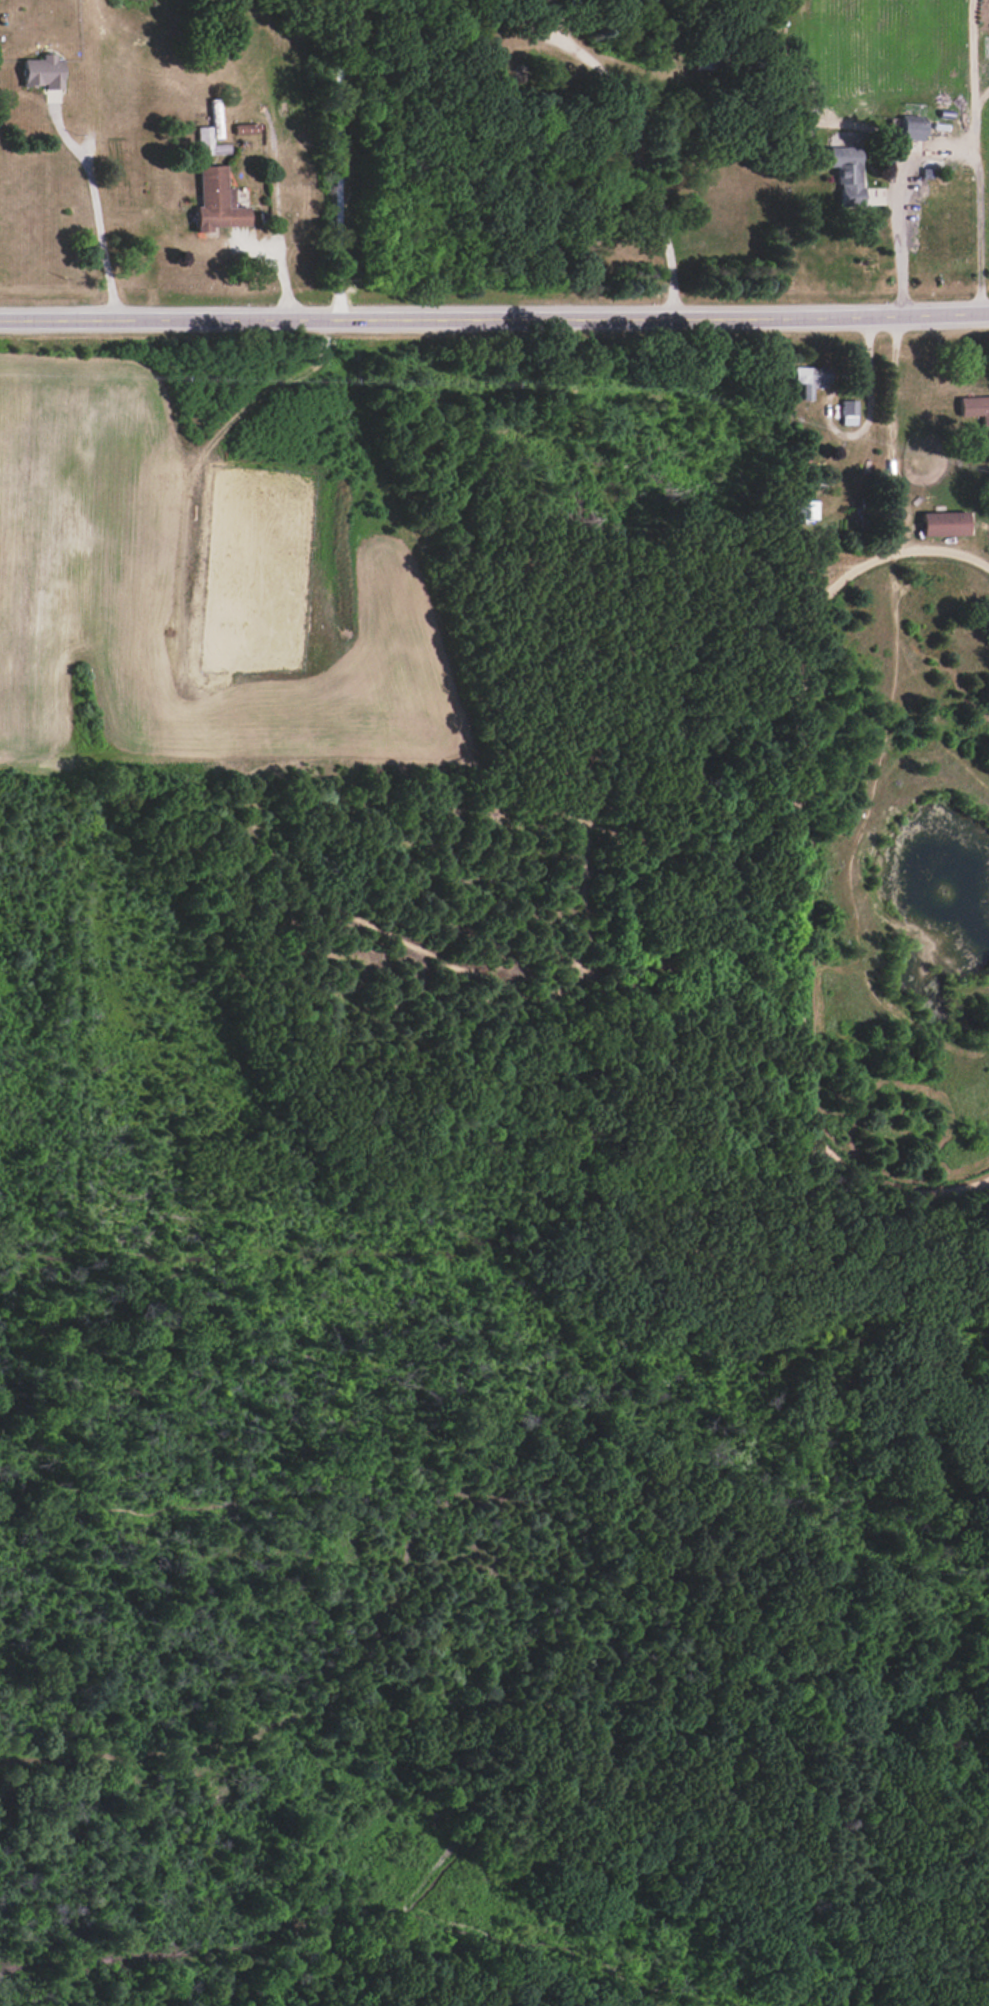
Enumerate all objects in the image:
building: (42, 72)
building: (803, 122)
building: (244, 128)
building: (910, 128)
building: (208, 142)
road: (639, 151)
road: (977, 156)
road: (336, 157)
building: (845, 173)
building: (215, 201)
road: (93, 205)
road: (899, 240)
road: (279, 266)
road: (494, 318)
building: (810, 379)
building: (975, 408)
building: (848, 412)
road: (860, 426)
building: (943, 523)

